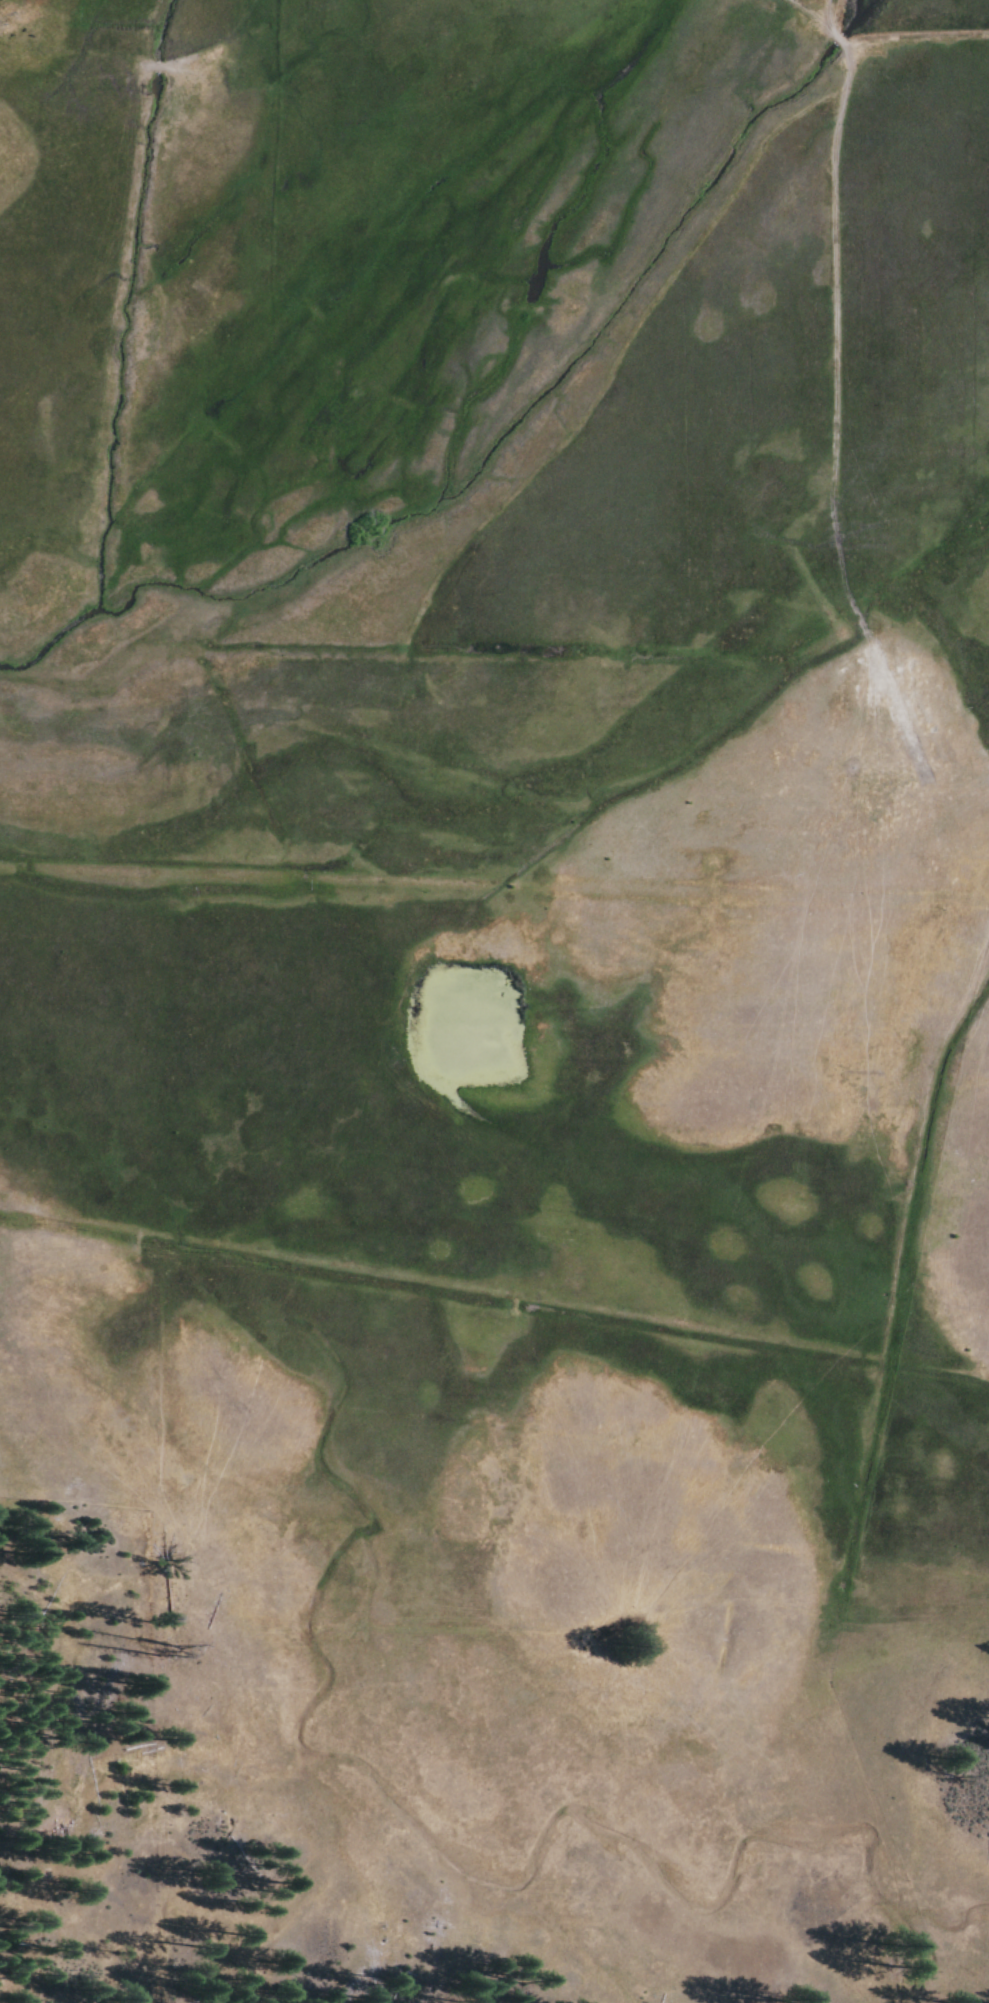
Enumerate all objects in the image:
wastewater plant: (464, 1014)
road: (494, 1295)

